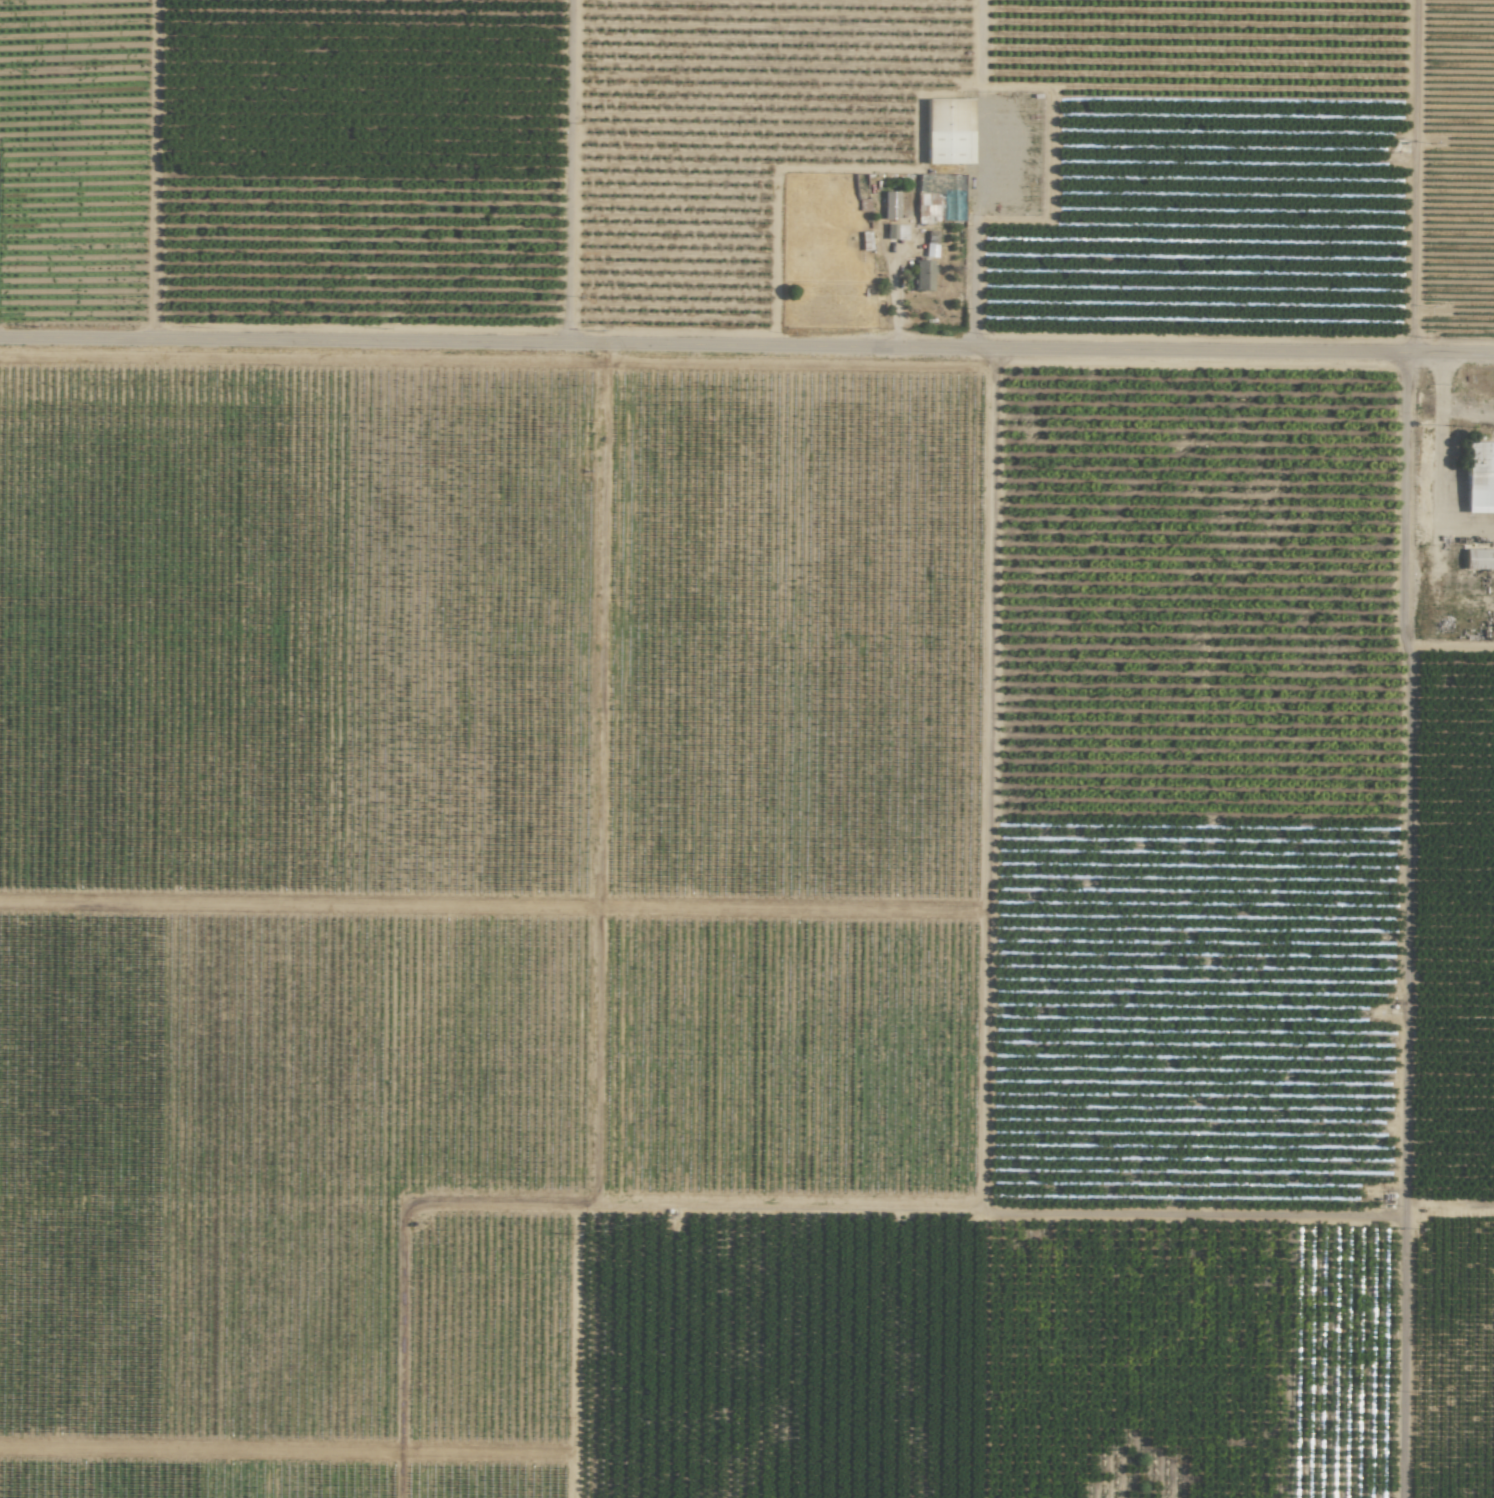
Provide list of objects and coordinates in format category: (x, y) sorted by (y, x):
building: (947, 131)
road: (970, 254)
building: (922, 275)
road: (893, 298)
road: (747, 354)
road: (1441, 465)
building: (1477, 475)
building: (1478, 559)
road: (1407, 927)

